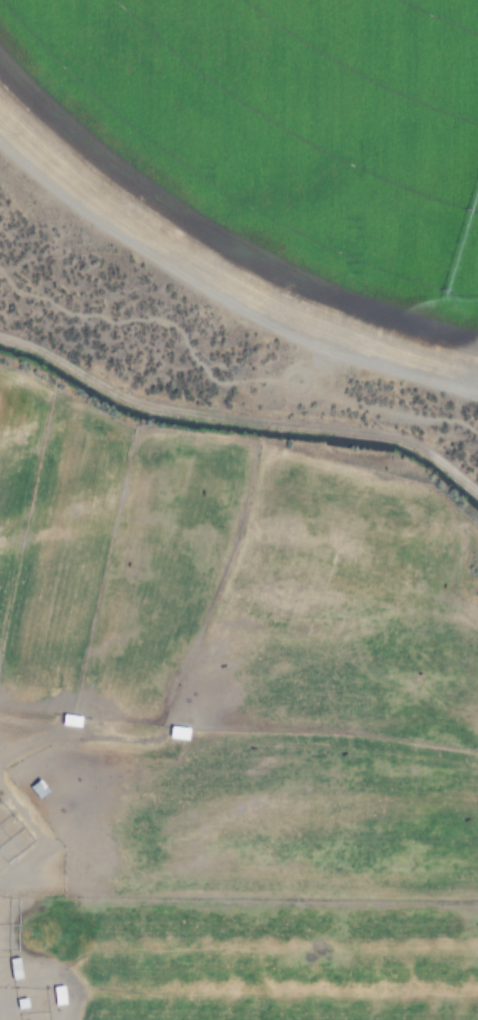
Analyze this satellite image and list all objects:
building: (14, 969)

